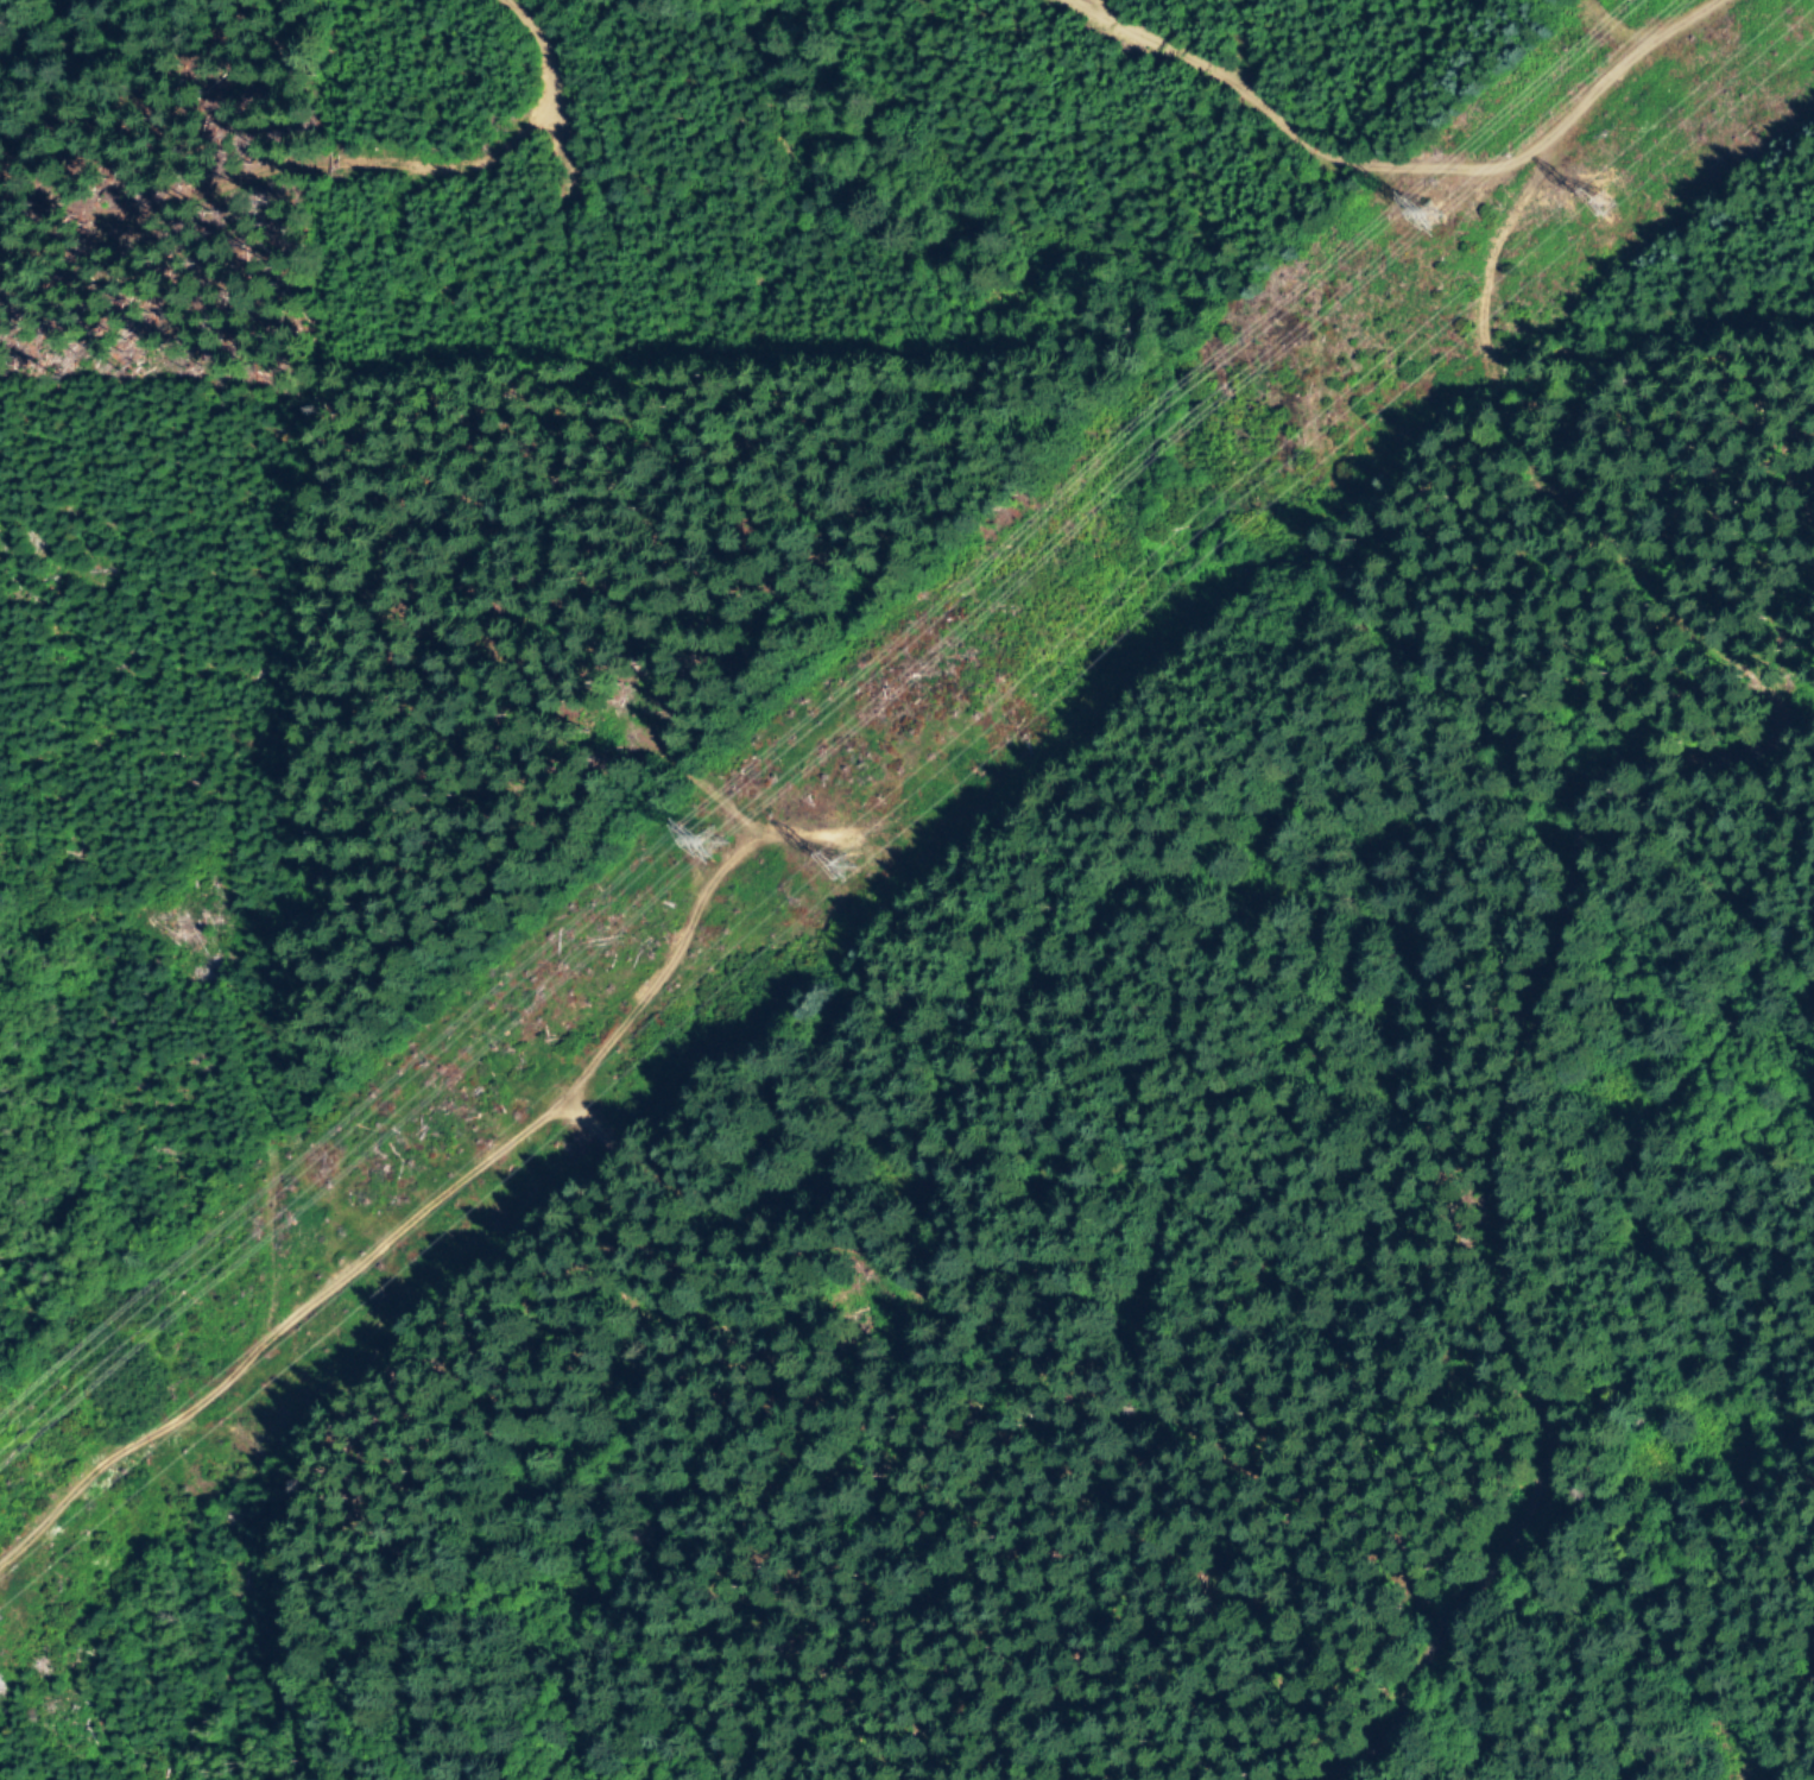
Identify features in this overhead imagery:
road: (1301, 141)
power tower: (1614, 206)
power tower: (1442, 214)
road: (1506, 387)
power tower: (718, 845)
power tower: (852, 867)
road: (428, 1226)
road: (1012, 1334)
road: (1528, 1352)

